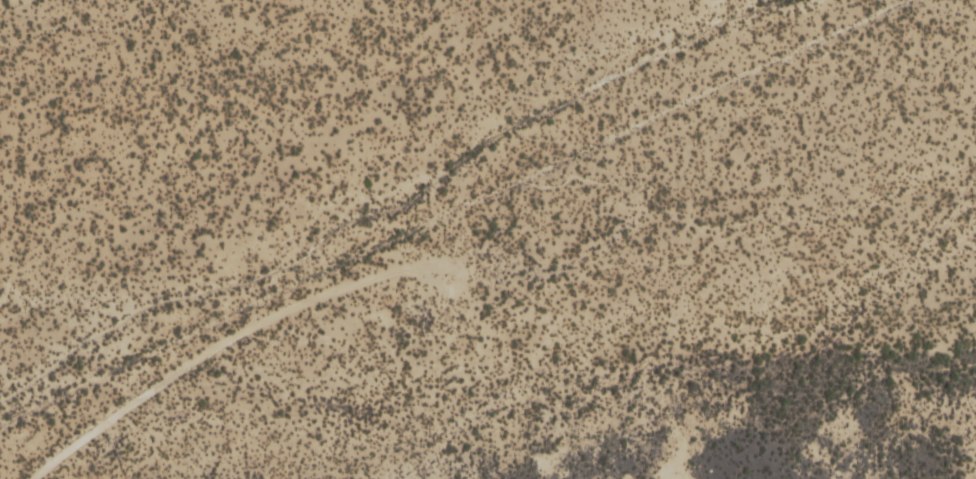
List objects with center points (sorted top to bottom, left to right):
building: (302, 78)
building: (866, 118)

